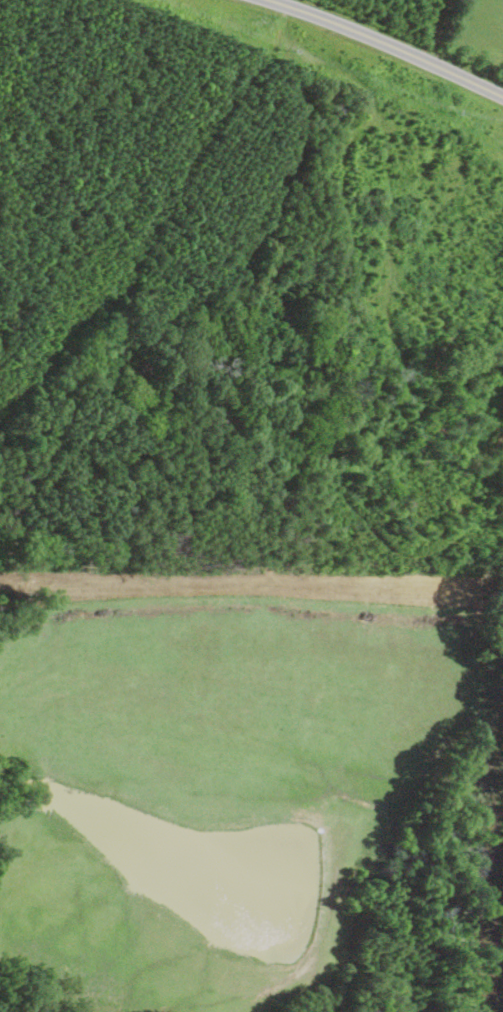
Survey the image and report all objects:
road: (381, 42)

